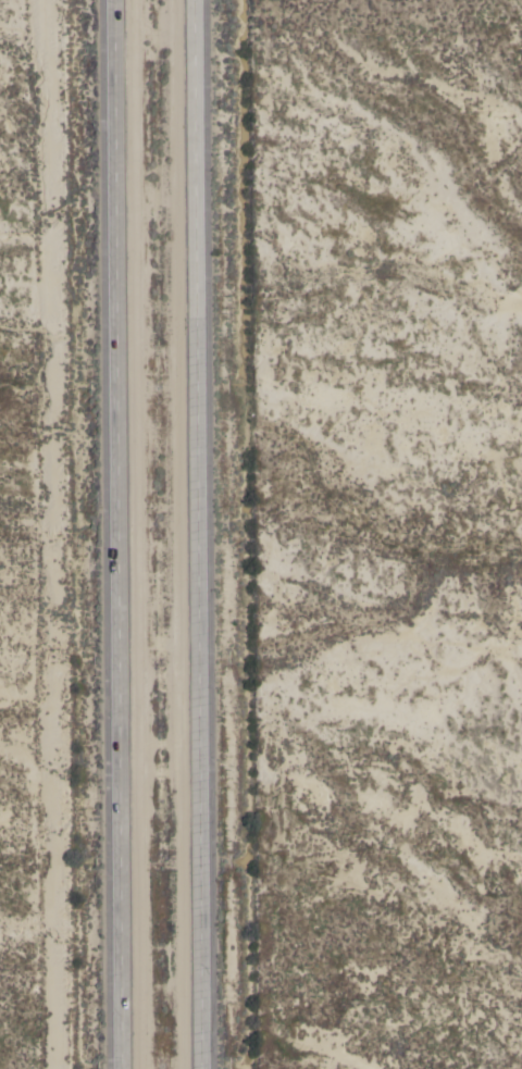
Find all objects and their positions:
road: (117, 534)
road: (195, 534)

